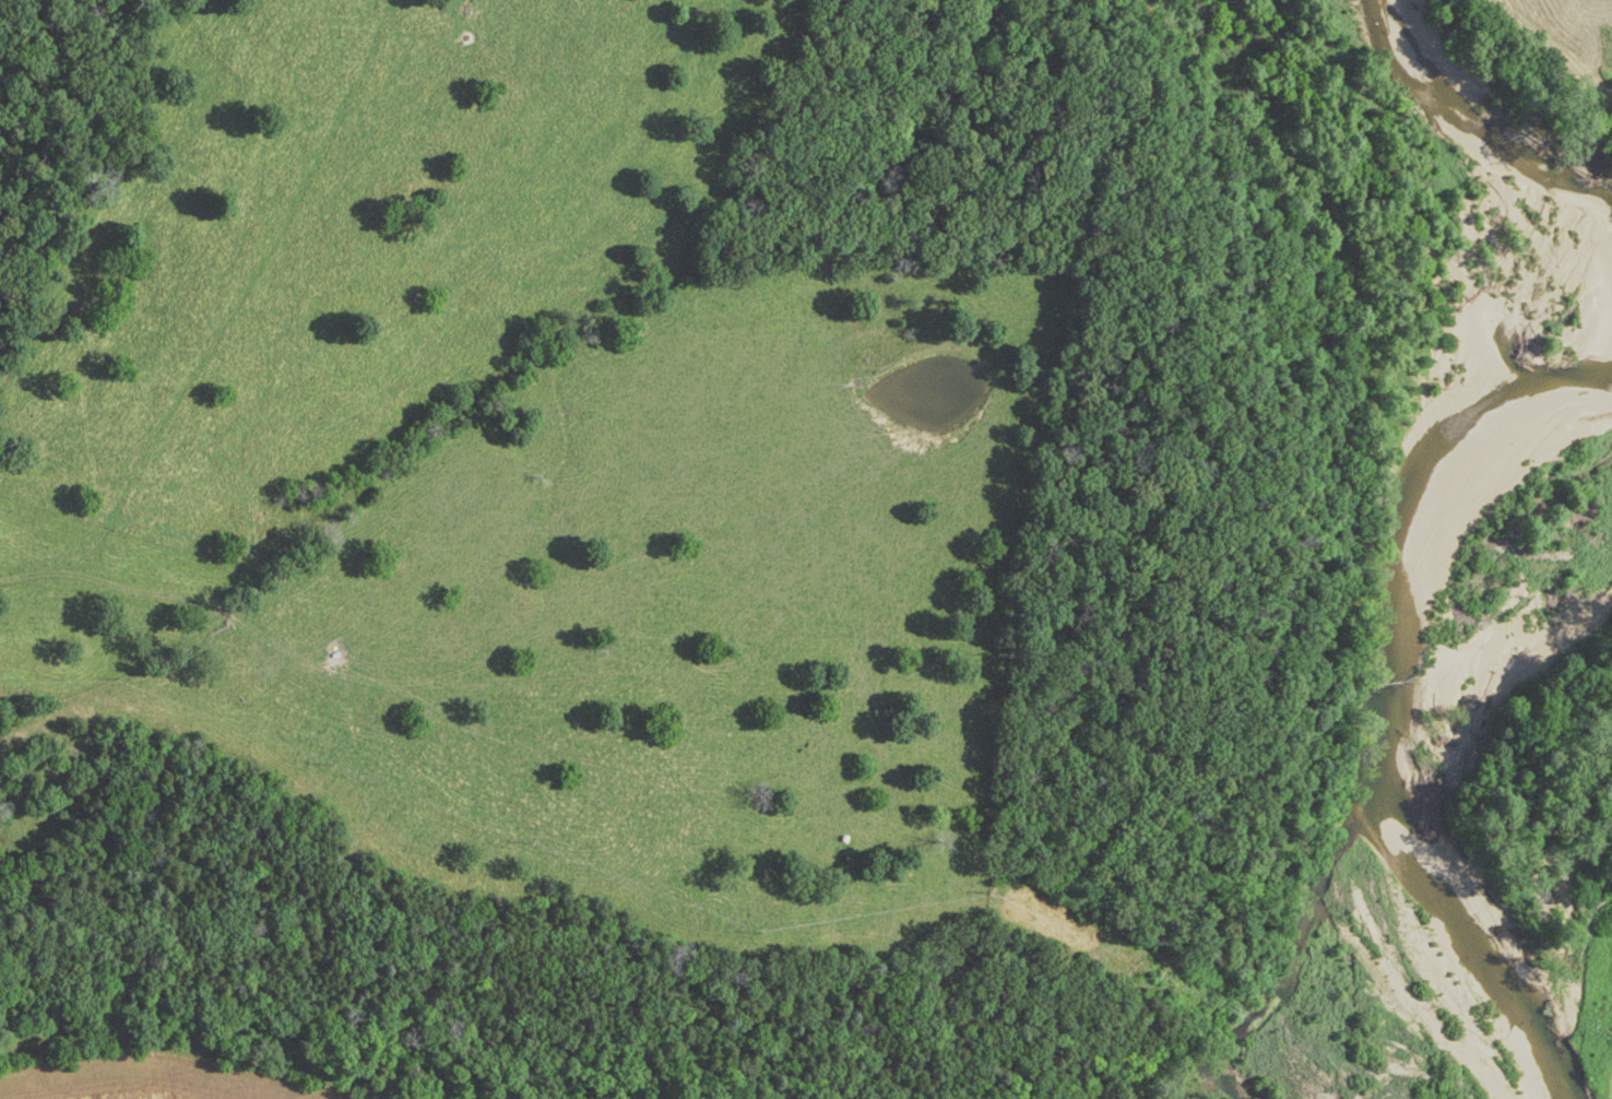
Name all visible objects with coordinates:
river: (1540, 214)
river: (1367, 819)

